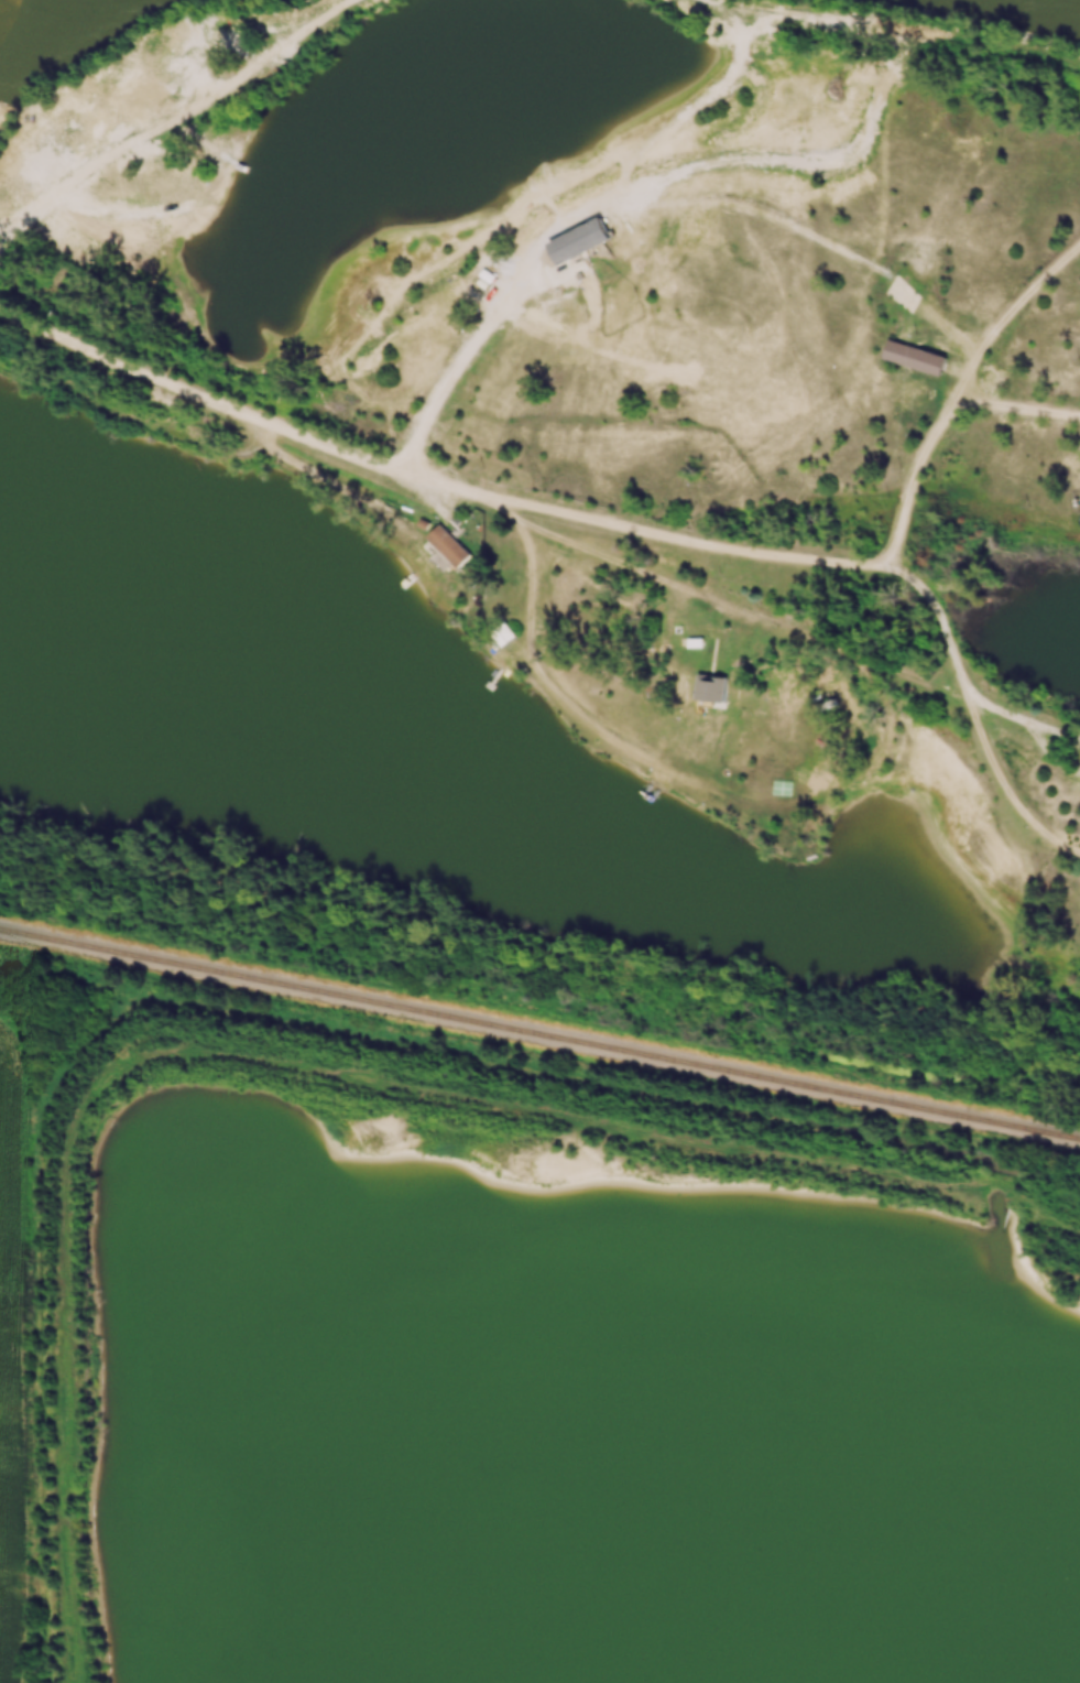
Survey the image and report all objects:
road: (896, 23)
road: (163, 41)
road: (171, 126)
road: (561, 220)
building: (583, 243)
road: (828, 243)
road: (1022, 298)
building: (902, 351)
road: (259, 419)
road: (937, 428)
road: (313, 473)
building: (454, 545)
road: (608, 556)
road: (805, 563)
building: (506, 636)
road: (1036, 741)
road: (670, 774)
road: (1007, 790)
railway: (539, 1032)

